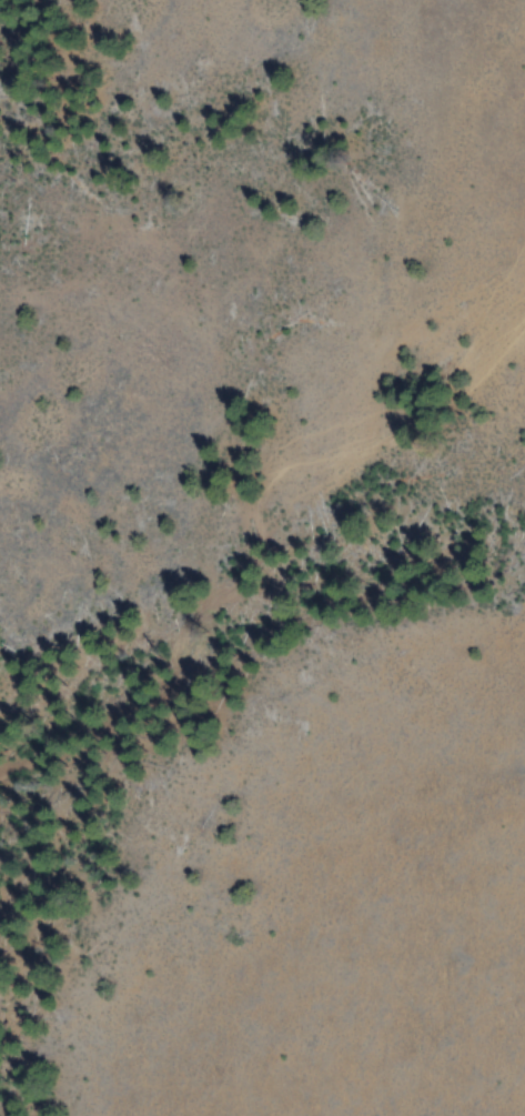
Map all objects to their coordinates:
road: (486, 290)
road: (245, 515)

